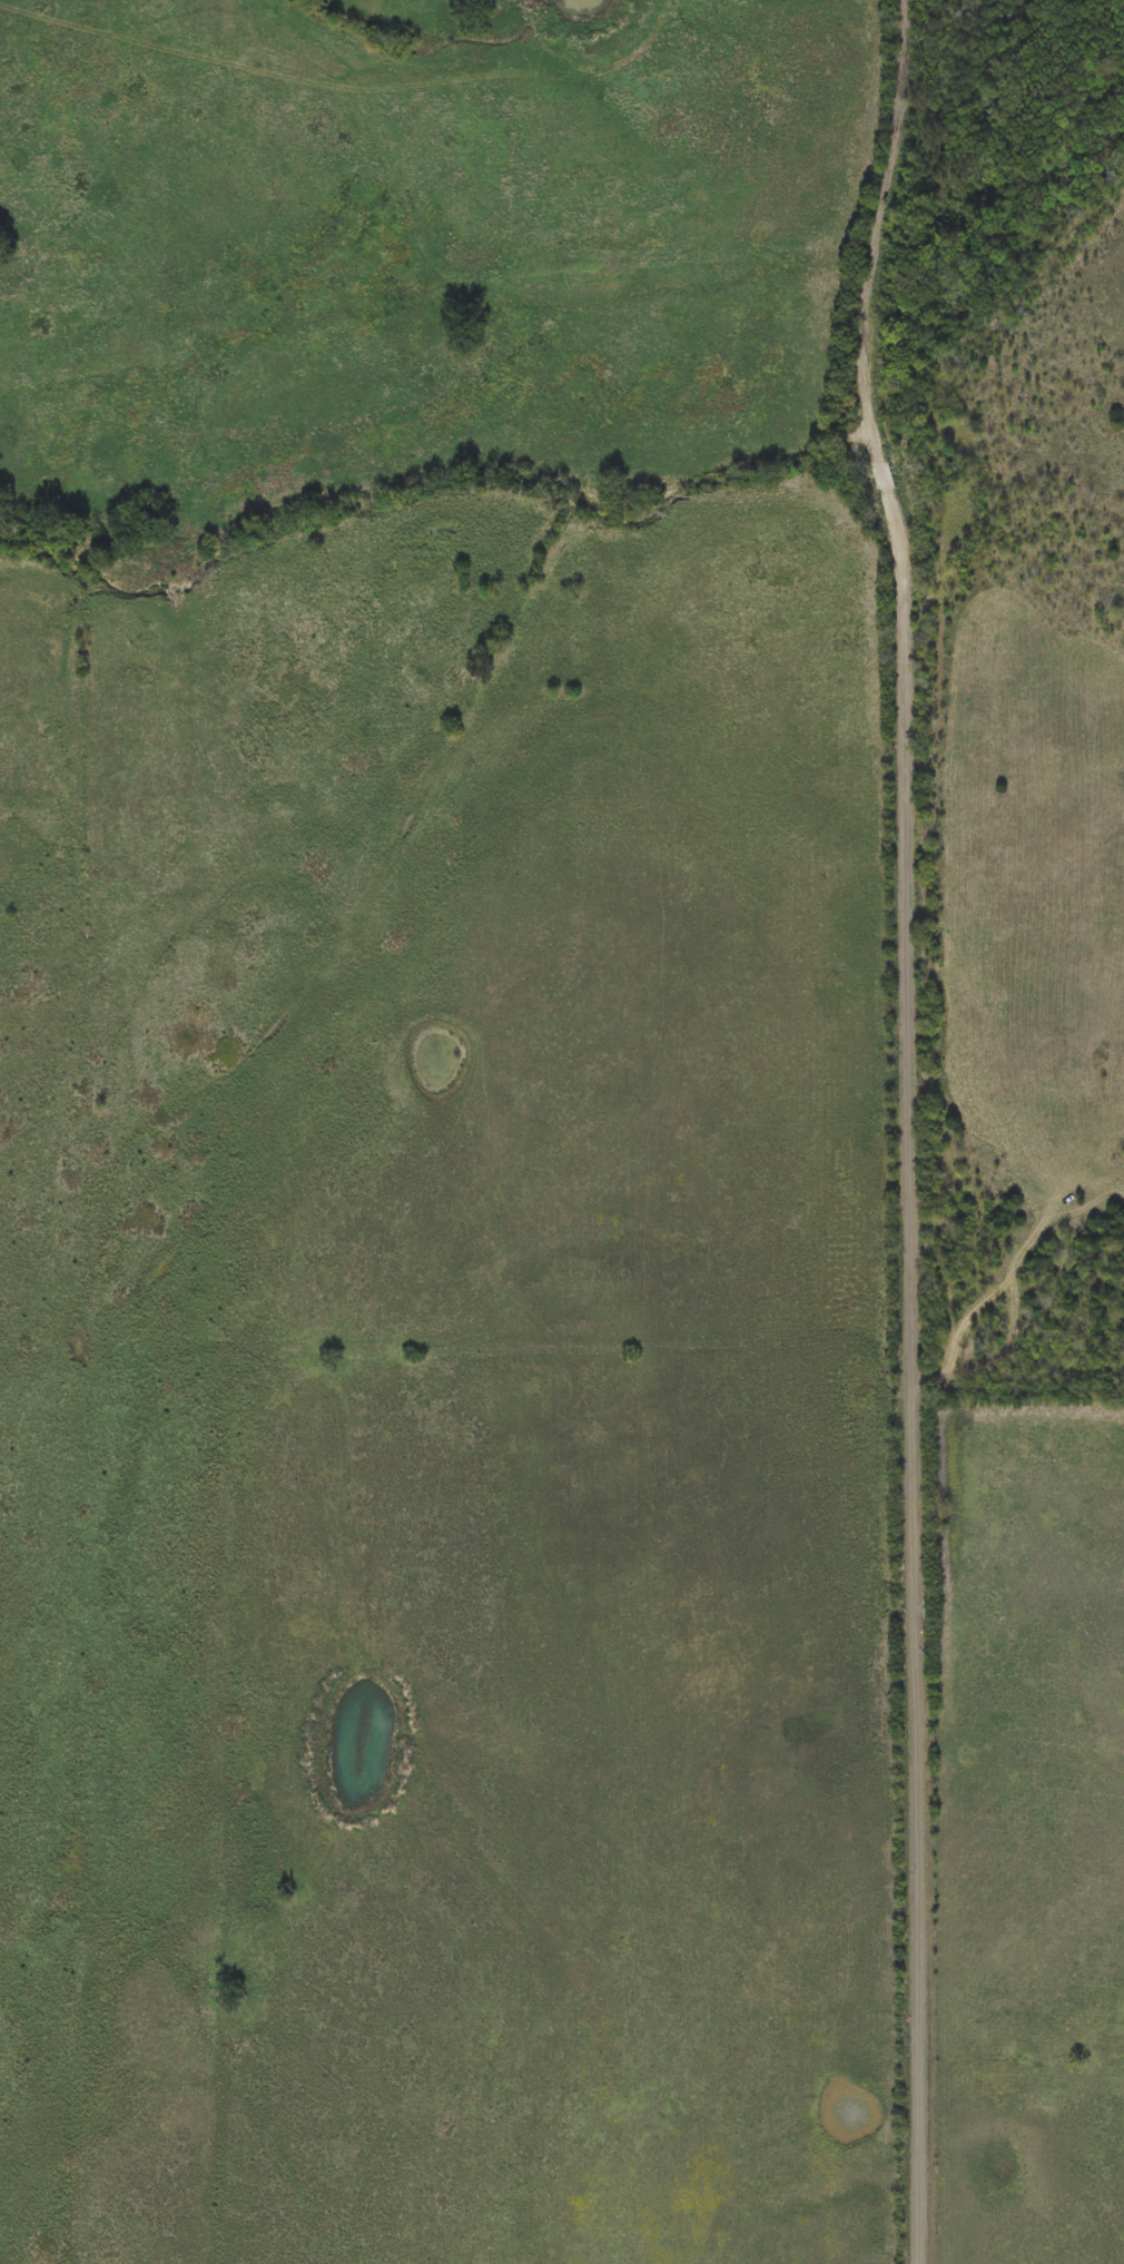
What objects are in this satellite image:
road: (883, 234)
road: (881, 476)
road: (911, 1372)

